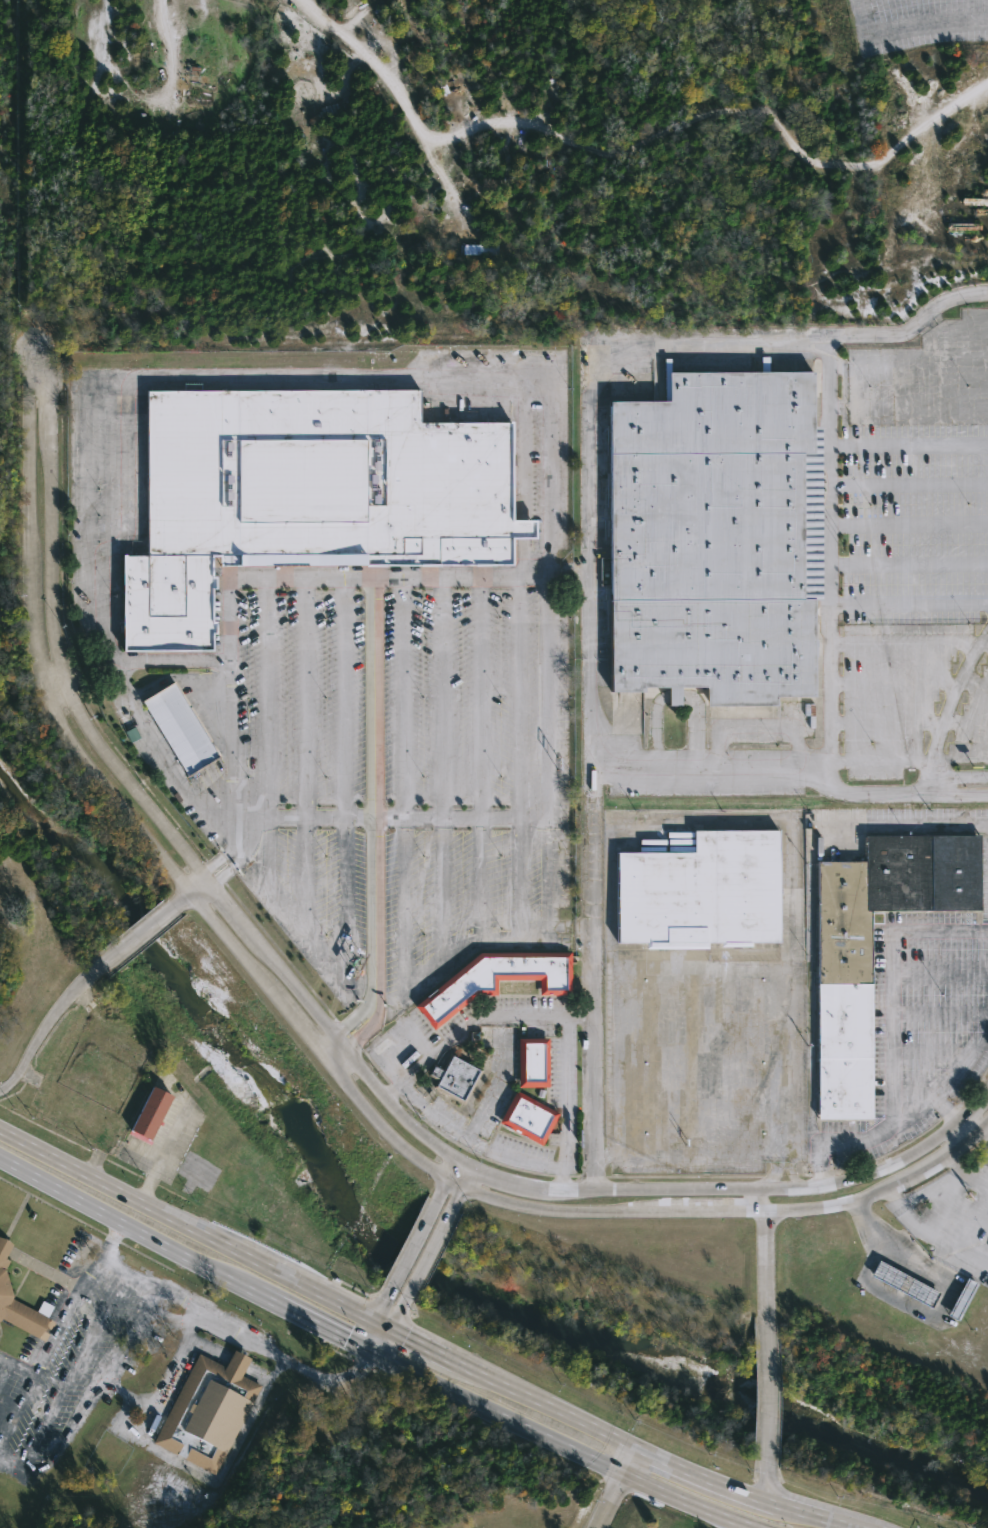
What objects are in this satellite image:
road: (909, 24)
road: (903, 329)
road: (509, 399)
road: (909, 442)
road: (909, 482)
building: (302, 494)
park: (6, 496)
road: (909, 522)
building: (713, 538)
road: (830, 547)
road: (909, 560)
road: (316, 579)
road: (460, 580)
road: (909, 601)
road: (54, 636)
road: (591, 644)
road: (35, 660)
road: (953, 693)
road: (265, 699)
building: (177, 729)
road: (876, 761)
road: (818, 765)
road: (957, 774)
road: (371, 790)
road: (955, 794)
road: (481, 817)
road: (281, 818)
building: (700, 894)
road: (592, 935)
road: (890, 979)
building: (494, 980)
road: (82, 984)
road: (374, 1003)
road: (399, 1010)
building: (843, 1015)
road: (400, 1020)
road: (502, 1020)
road: (502, 1033)
road: (417, 1041)
road: (441, 1048)
road: (313, 1051)
building: (532, 1061)
building: (454, 1077)
road: (491, 1087)
road: (561, 1102)
road: (592, 1103)
road: (948, 1109)
road: (432, 1110)
building: (149, 1112)
road: (907, 1113)
building: (527, 1118)
road: (969, 1129)
road: (983, 1140)
road: (164, 1153)
road: (968, 1169)
road: (448, 1174)
road: (462, 1174)
road: (545, 1185)
road: (930, 1187)
road: (456, 1194)
road: (734, 1211)
road: (128, 1222)
road: (186, 1224)
road: (110, 1239)
road: (930, 1239)
road: (410, 1244)
road: (763, 1250)
road: (426, 1256)
building: (906, 1284)
road: (152, 1296)
traffic signals: (383, 1299)
building: (963, 1301)
building: (19, 1306)
road: (378, 1306)
road: (913, 1309)
road: (394, 1317)
road: (382, 1320)
road: (316, 1321)
road: (367, 1330)
traffic signals: (408, 1333)
traffic signals: (347, 1337)
road: (383, 1338)
road: (431, 1344)
road: (47, 1348)
road: (17, 1365)
traffic signals: (365, 1365)
road: (73, 1370)
road: (127, 1394)
road: (771, 1394)
road: (90, 1400)
road: (553, 1406)
building: (209, 1410)
road: (564, 1445)
road: (176, 1463)
road: (11, 1466)
road: (700, 1477)
road: (614, 1487)
road: (767, 1488)
road: (798, 1511)
road: (846, 1524)

